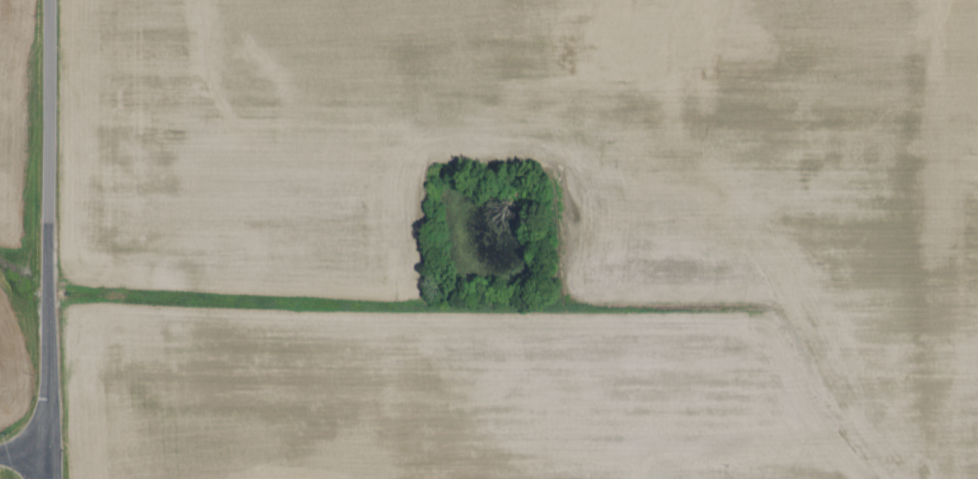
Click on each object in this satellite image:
road: (47, 254)
road: (44, 471)

